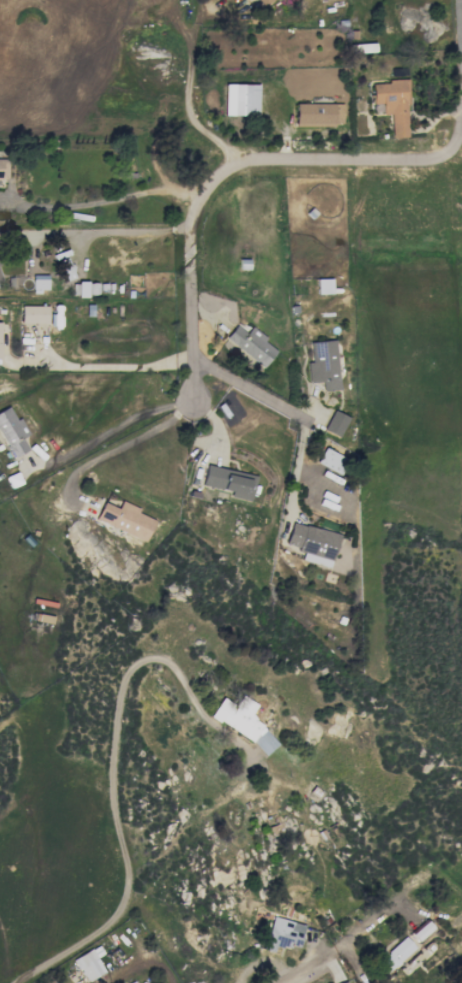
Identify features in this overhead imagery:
building: (261, 2)
road: (461, 6)
road: (189, 90)
building: (240, 99)
building: (392, 104)
building: (317, 114)
road: (455, 140)
road: (329, 157)
building: (2, 168)
road: (104, 200)
road: (105, 232)
building: (0, 278)
road: (187, 280)
building: (39, 282)
building: (323, 286)
building: (81, 289)
building: (33, 314)
building: (250, 344)
building: (323, 365)
road: (113, 366)
road: (287, 408)
building: (335, 423)
road: (108, 429)
building: (12, 432)
road: (117, 447)
building: (331, 461)
building: (229, 481)
building: (124, 519)
building: (312, 543)
building: (241, 721)
road: (110, 776)
building: (421, 930)
building: (283, 935)
road: (334, 947)
building: (397, 954)
building: (89, 961)
building: (144, 981)
building: (132, 982)
building: (344, 982)

